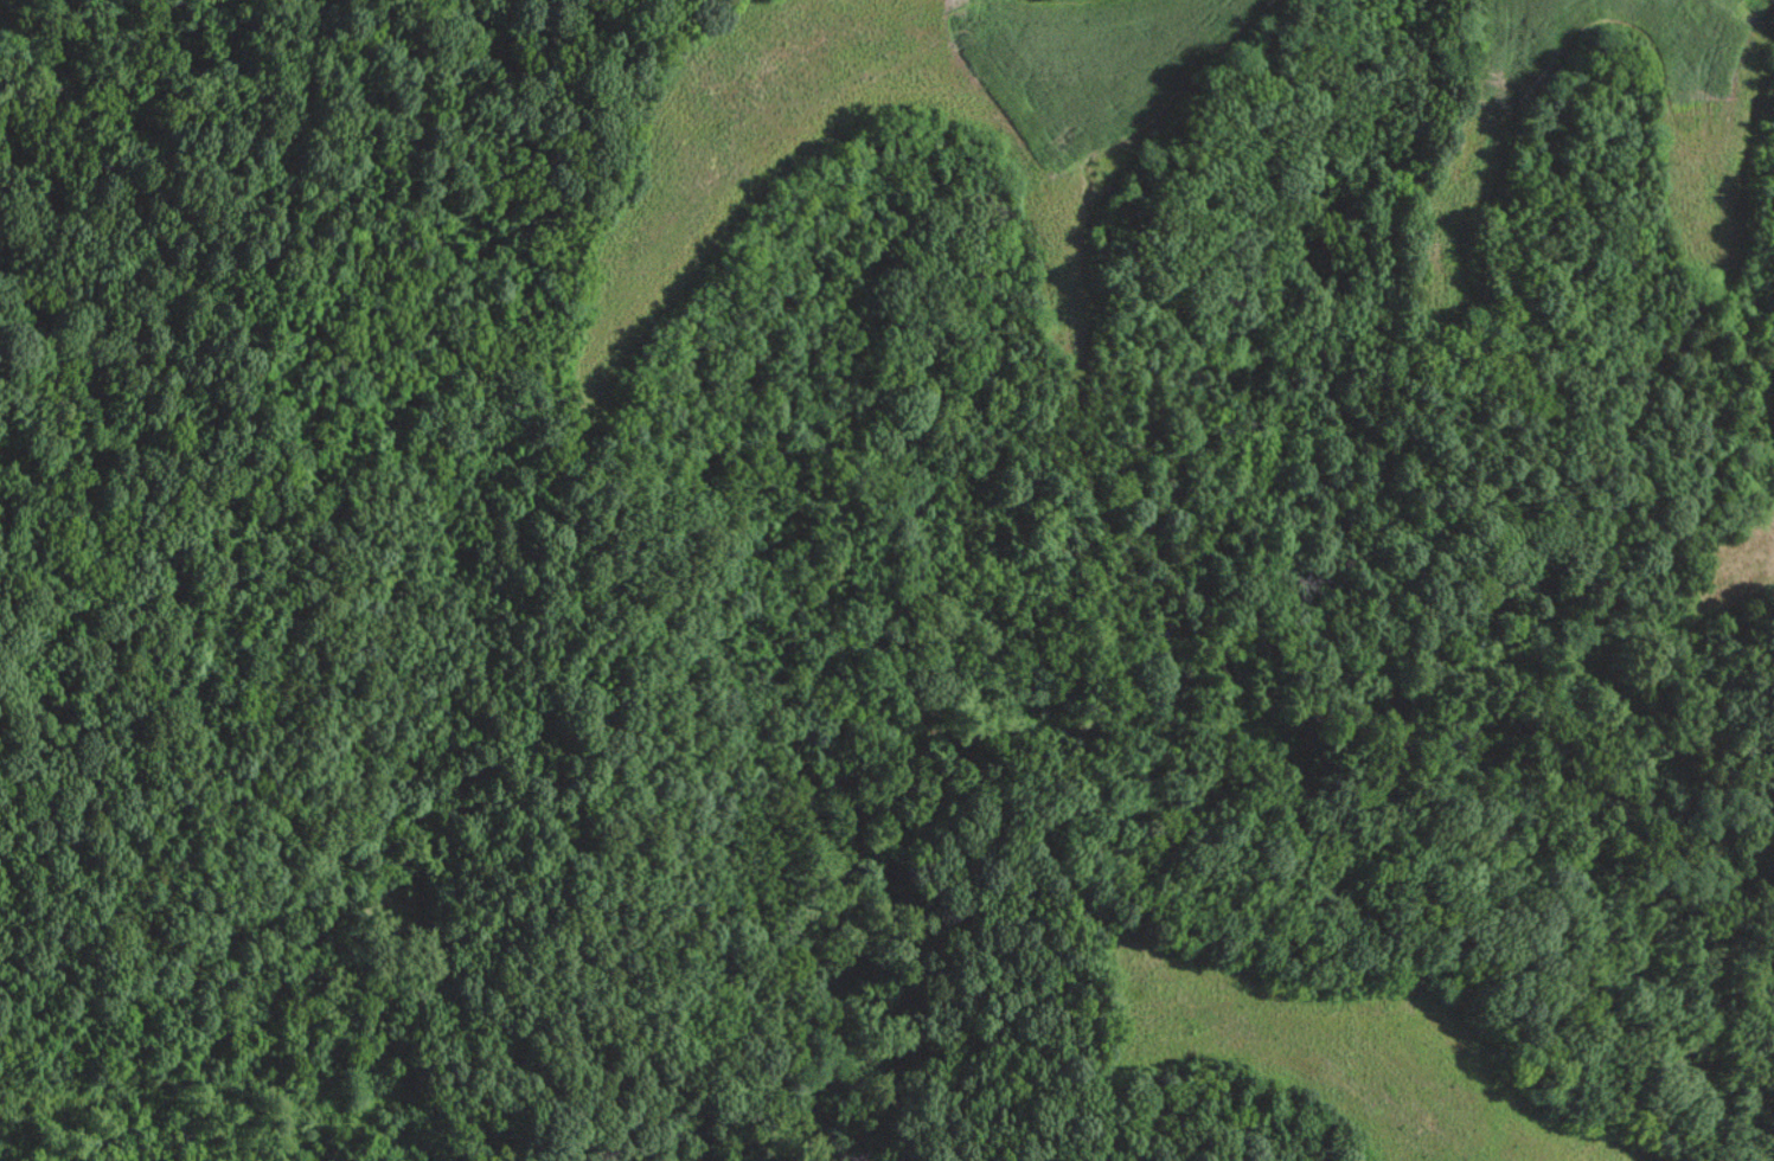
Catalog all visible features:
road: (1757, 12)
road: (1195, 727)

